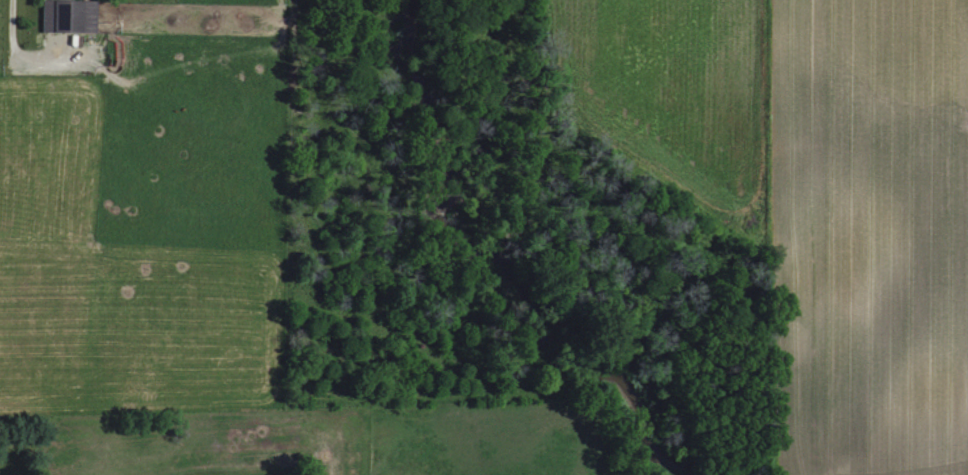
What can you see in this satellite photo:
building: (67, 16)

